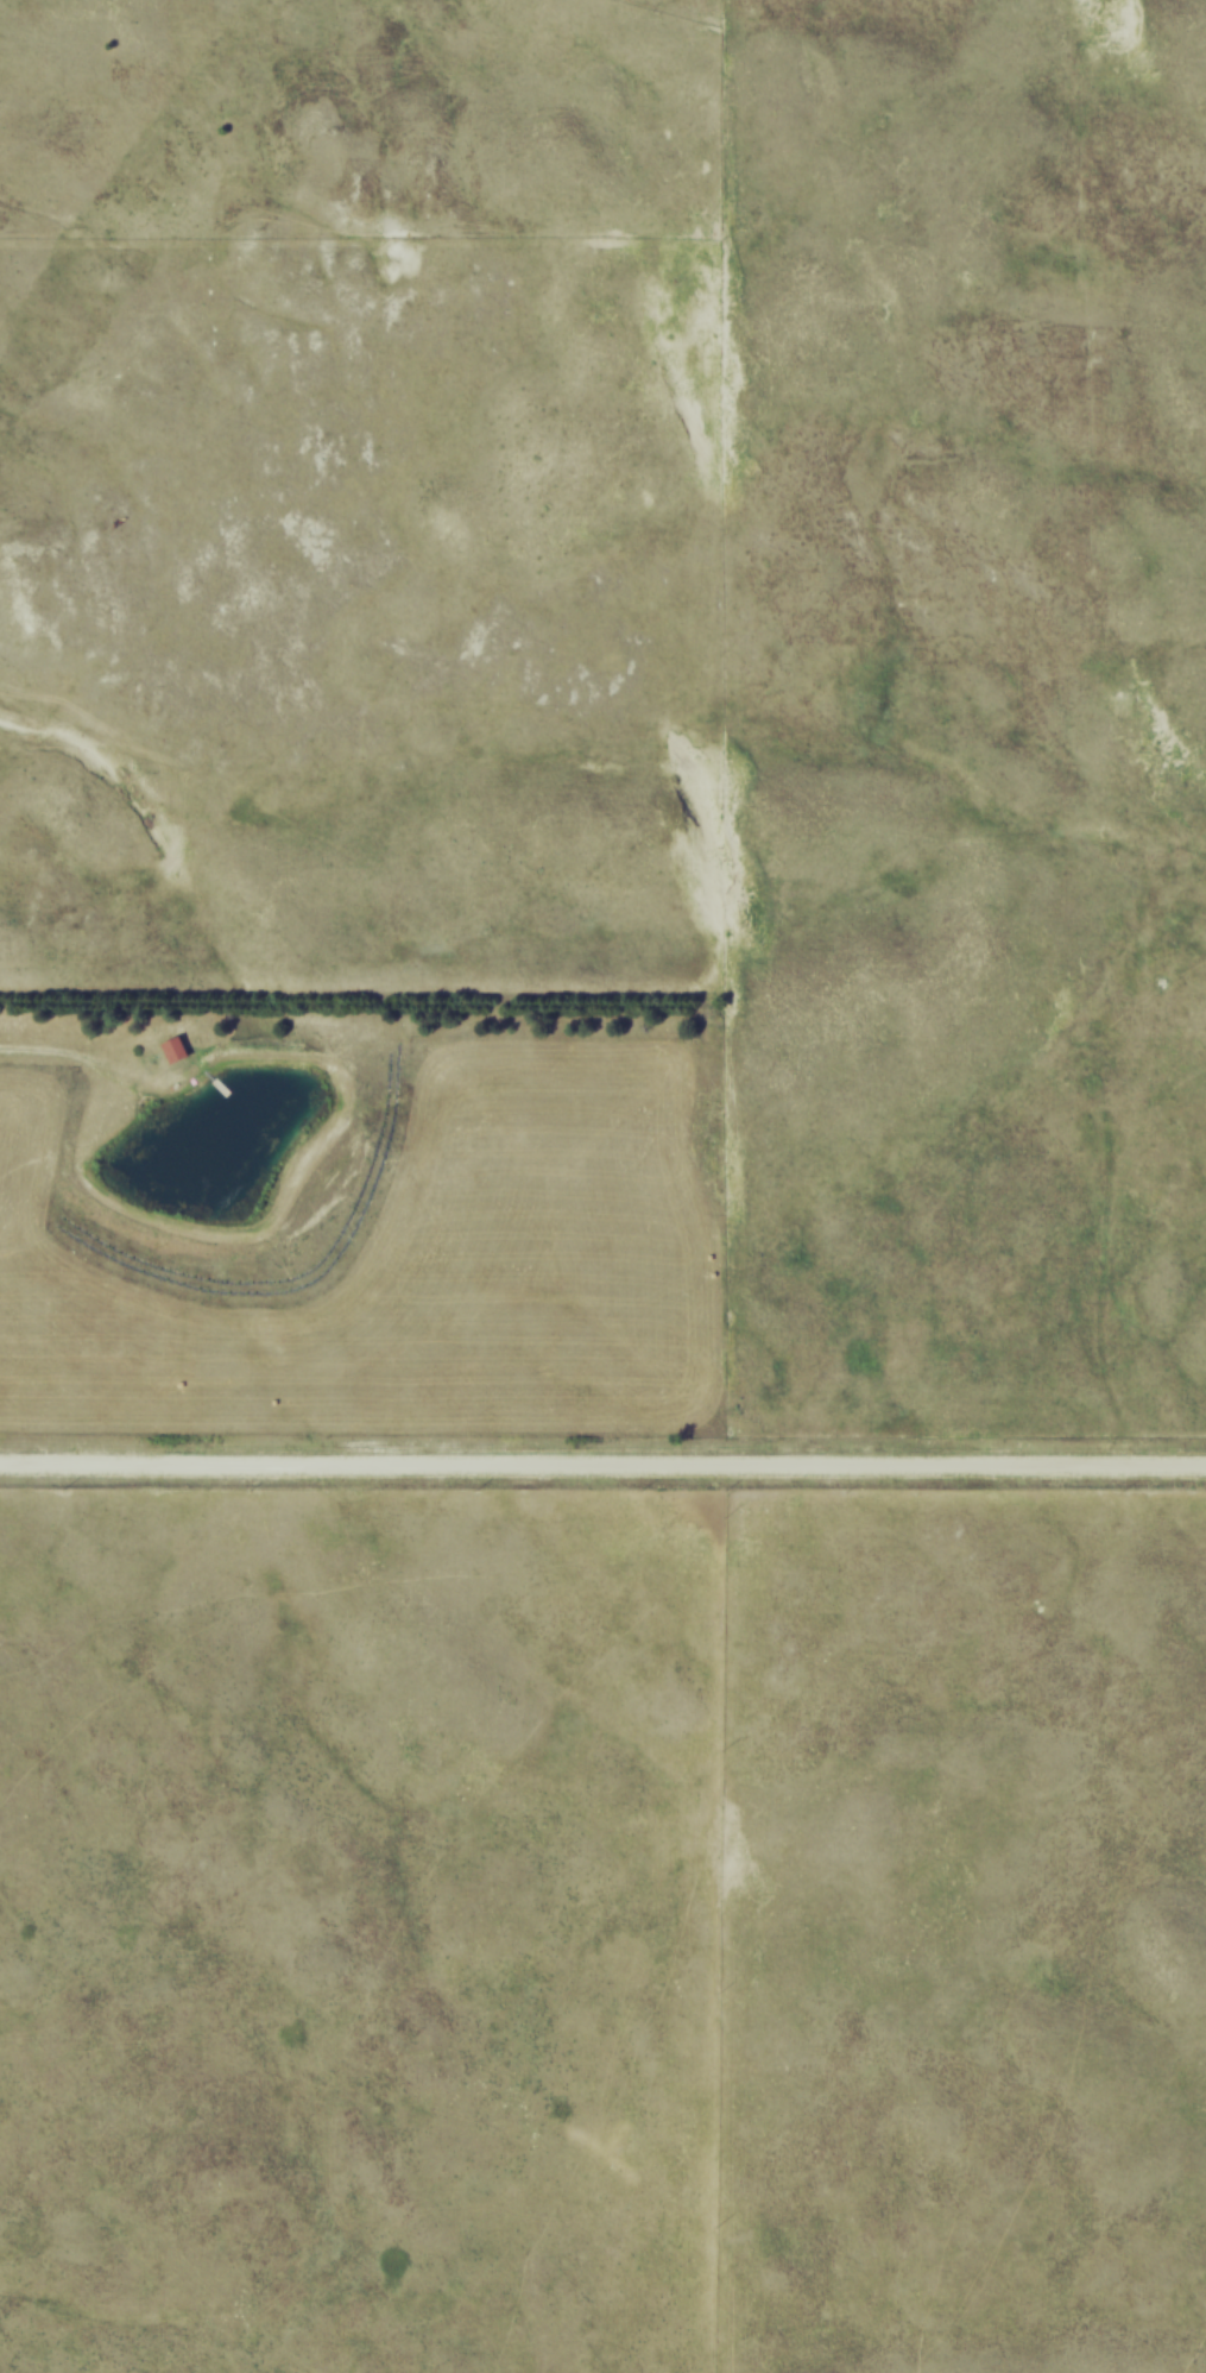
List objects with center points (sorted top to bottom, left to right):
road: (602, 1473)

